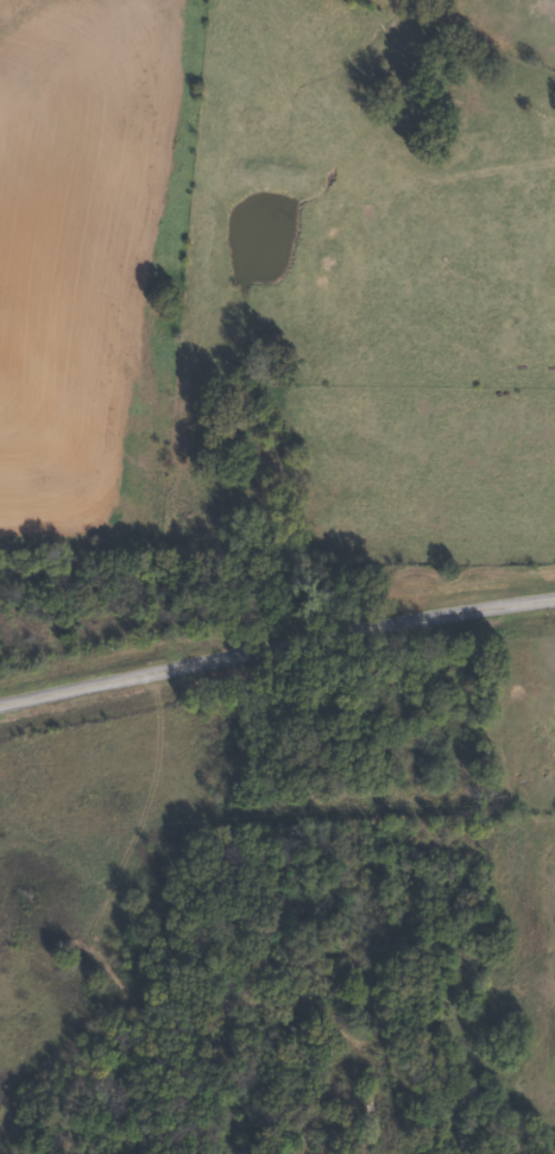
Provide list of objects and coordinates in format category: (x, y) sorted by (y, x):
road: (276, 650)

